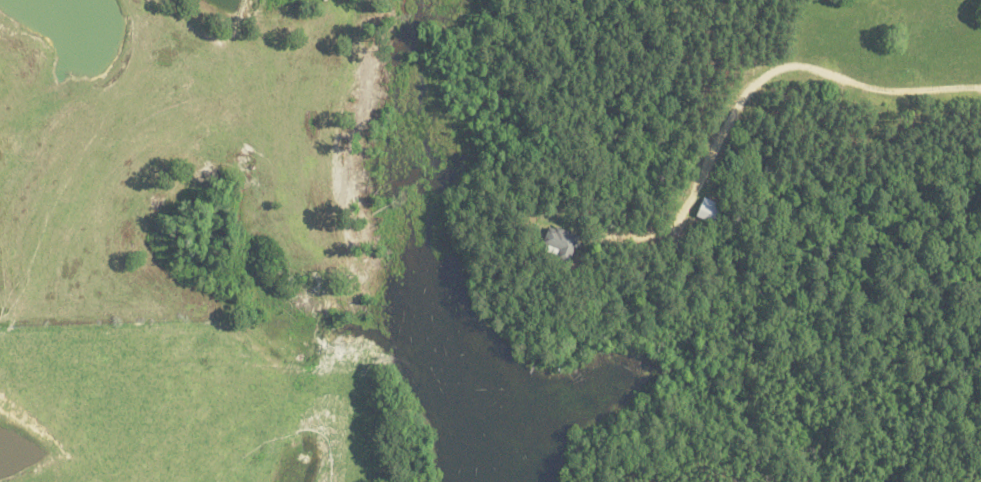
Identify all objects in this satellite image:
building: (558, 242)

